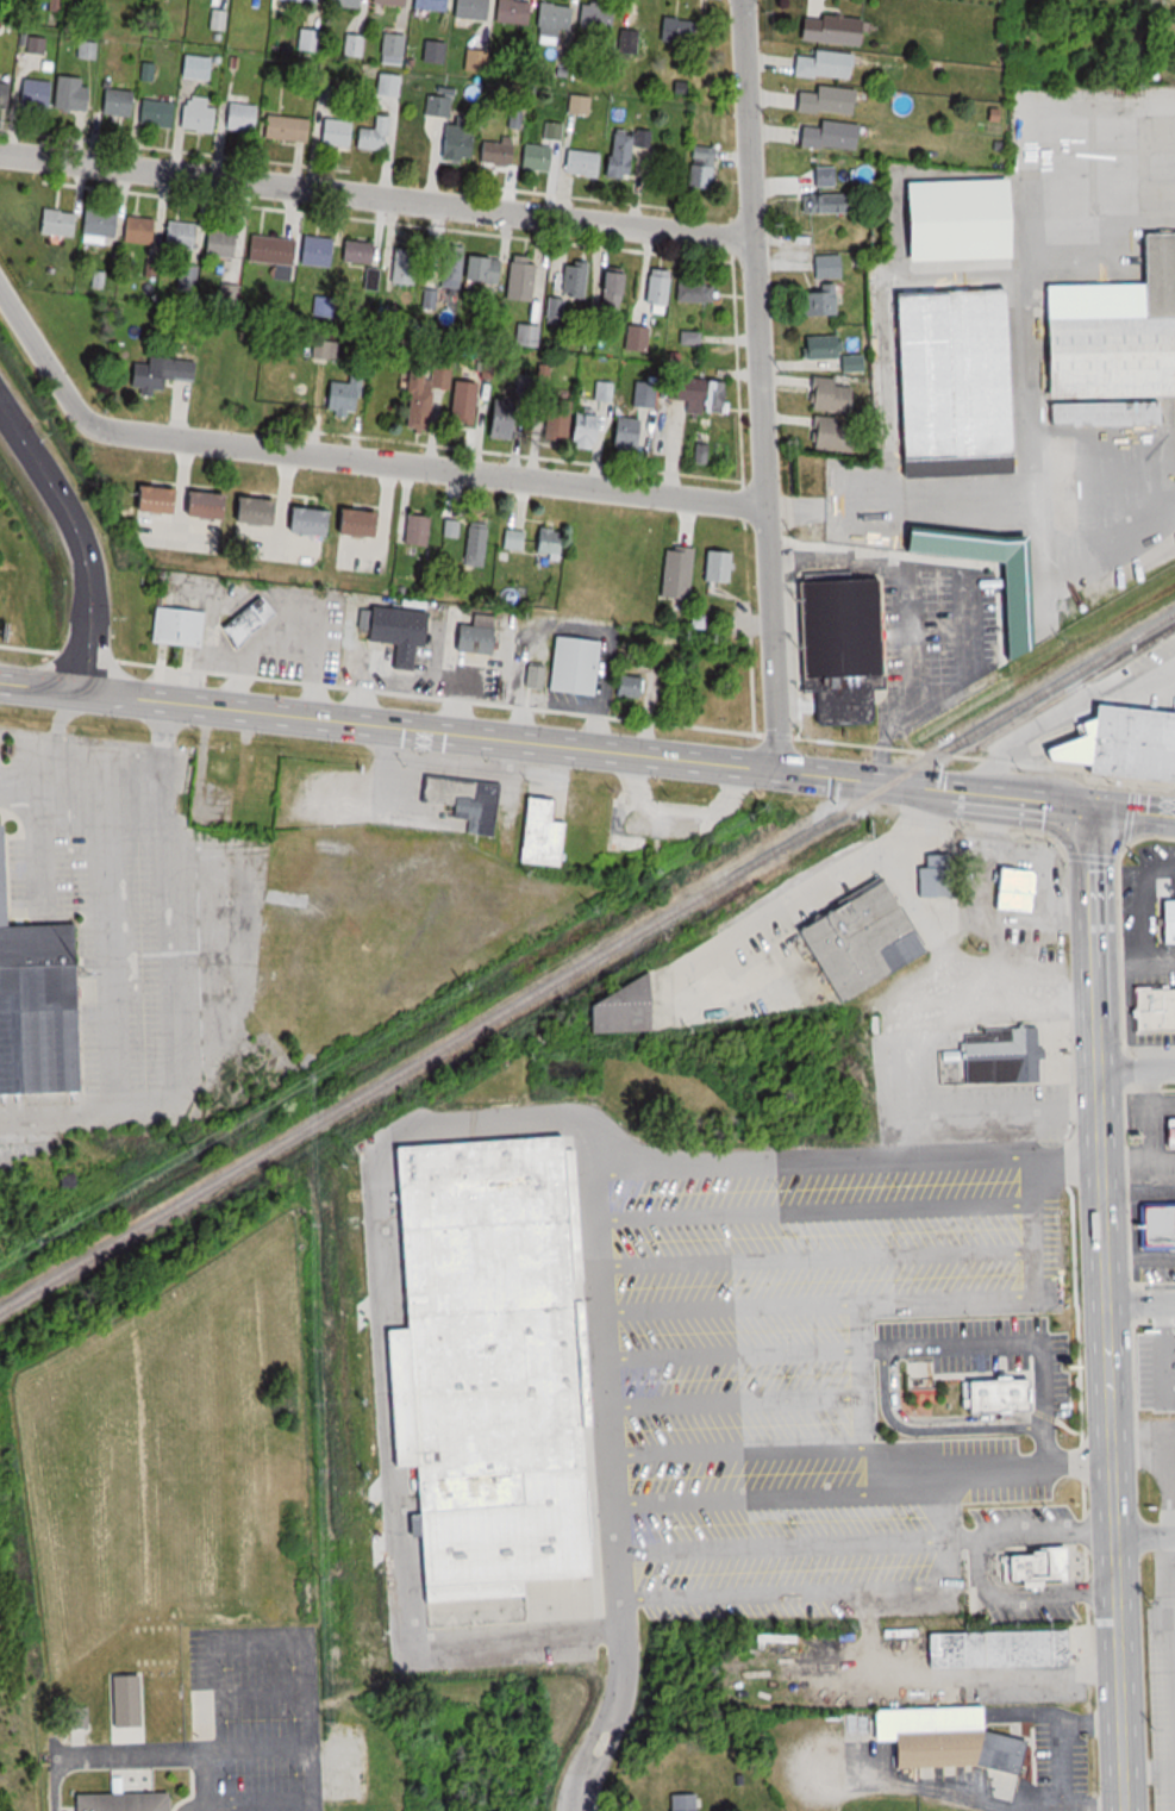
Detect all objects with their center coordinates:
building: (311, 0)
building: (350, 2)
building: (395, 2)
building: (435, 4)
building: (475, 8)
building: (1090, 8)
building: (515, 12)
building: (598, 17)
building: (557, 20)
building: (837, 30)
building: (681, 31)
building: (311, 40)
building: (356, 44)
building: (395, 49)
building: (477, 60)
building: (830, 64)
building: (201, 67)
building: (390, 89)
building: (37, 92)
building: (74, 93)
building: (120, 101)
building: (440, 101)
building: (832, 101)
building: (161, 113)
building: (201, 114)
building: (245, 117)
building: (290, 127)
building: (339, 132)
building: (379, 135)
building: (835, 136)
building: (461, 142)
building: (504, 148)
building: (632, 155)
building: (540, 157)
building: (586, 163)
building: (705, 167)
building: (827, 176)
road: (376, 195)
building: (832, 202)
building: (948, 219)
building: (61, 221)
building: (102, 221)
building: (142, 230)
building: (183, 235)
building: (224, 243)
building: (274, 250)
building: (320, 250)
building: (362, 251)
building: (406, 266)
building: (830, 266)
building: (487, 269)
building: (455, 270)
building: (524, 280)
building: (579, 280)
building: (662, 287)
building: (617, 291)
building: (700, 293)
building: (821, 301)
building: (530, 335)
building: (639, 338)
building: (693, 338)
building: (1110, 341)
building: (327, 349)
building: (827, 350)
road: (45, 362)
building: (163, 373)
building: (944, 373)
road: (761, 385)
building: (431, 389)
building: (701, 391)
building: (827, 394)
building: (349, 395)
building: (469, 402)
building: (556, 416)
building: (507, 419)
building: (592, 430)
building: (826, 432)
building: (633, 435)
road: (435, 467)
building: (162, 500)
building: (211, 505)
building: (261, 511)
building: (314, 522)
building: (363, 524)
building: (420, 530)
building: (452, 530)
road: (79, 538)
building: (514, 539)
building: (477, 544)
building: (551, 545)
building: (723, 567)
building: (681, 572)
building: (1005, 606)
building: (254, 620)
building: (181, 627)
building: (405, 633)
building: (481, 636)
building: (842, 664)
building: (579, 666)
building: (539, 677)
building: (633, 687)
road: (1067, 708)
road: (387, 725)
building: (1124, 744)
road: (932, 786)
building: (460, 803)
traffic signals: (1090, 807)
road: (1132, 811)
building: (537, 833)
building: (623, 842)
building: (930, 873)
road: (825, 883)
building: (1010, 888)
building: (1169, 920)
building: (854, 939)
railway: (587, 970)
building: (38, 997)
building: (1156, 1008)
building: (1001, 1055)
road: (1137, 1066)
building: (1171, 1134)
road: (1104, 1170)
building: (1157, 1228)
road: (1142, 1301)
road: (885, 1350)
building: (489, 1367)
building: (1167, 1386)
building: (999, 1395)
road: (740, 1450)
road: (850, 1474)
road: (611, 1491)
road: (1145, 1534)
road: (798, 1550)
building: (1038, 1563)
road: (981, 1567)
road: (261, 1637)
building: (1004, 1649)
road: (1120, 1672)
building: (131, 1700)
building: (958, 1742)
road: (189, 1748)
road: (1149, 1772)
building: (127, 1801)
building: (687, 1801)

